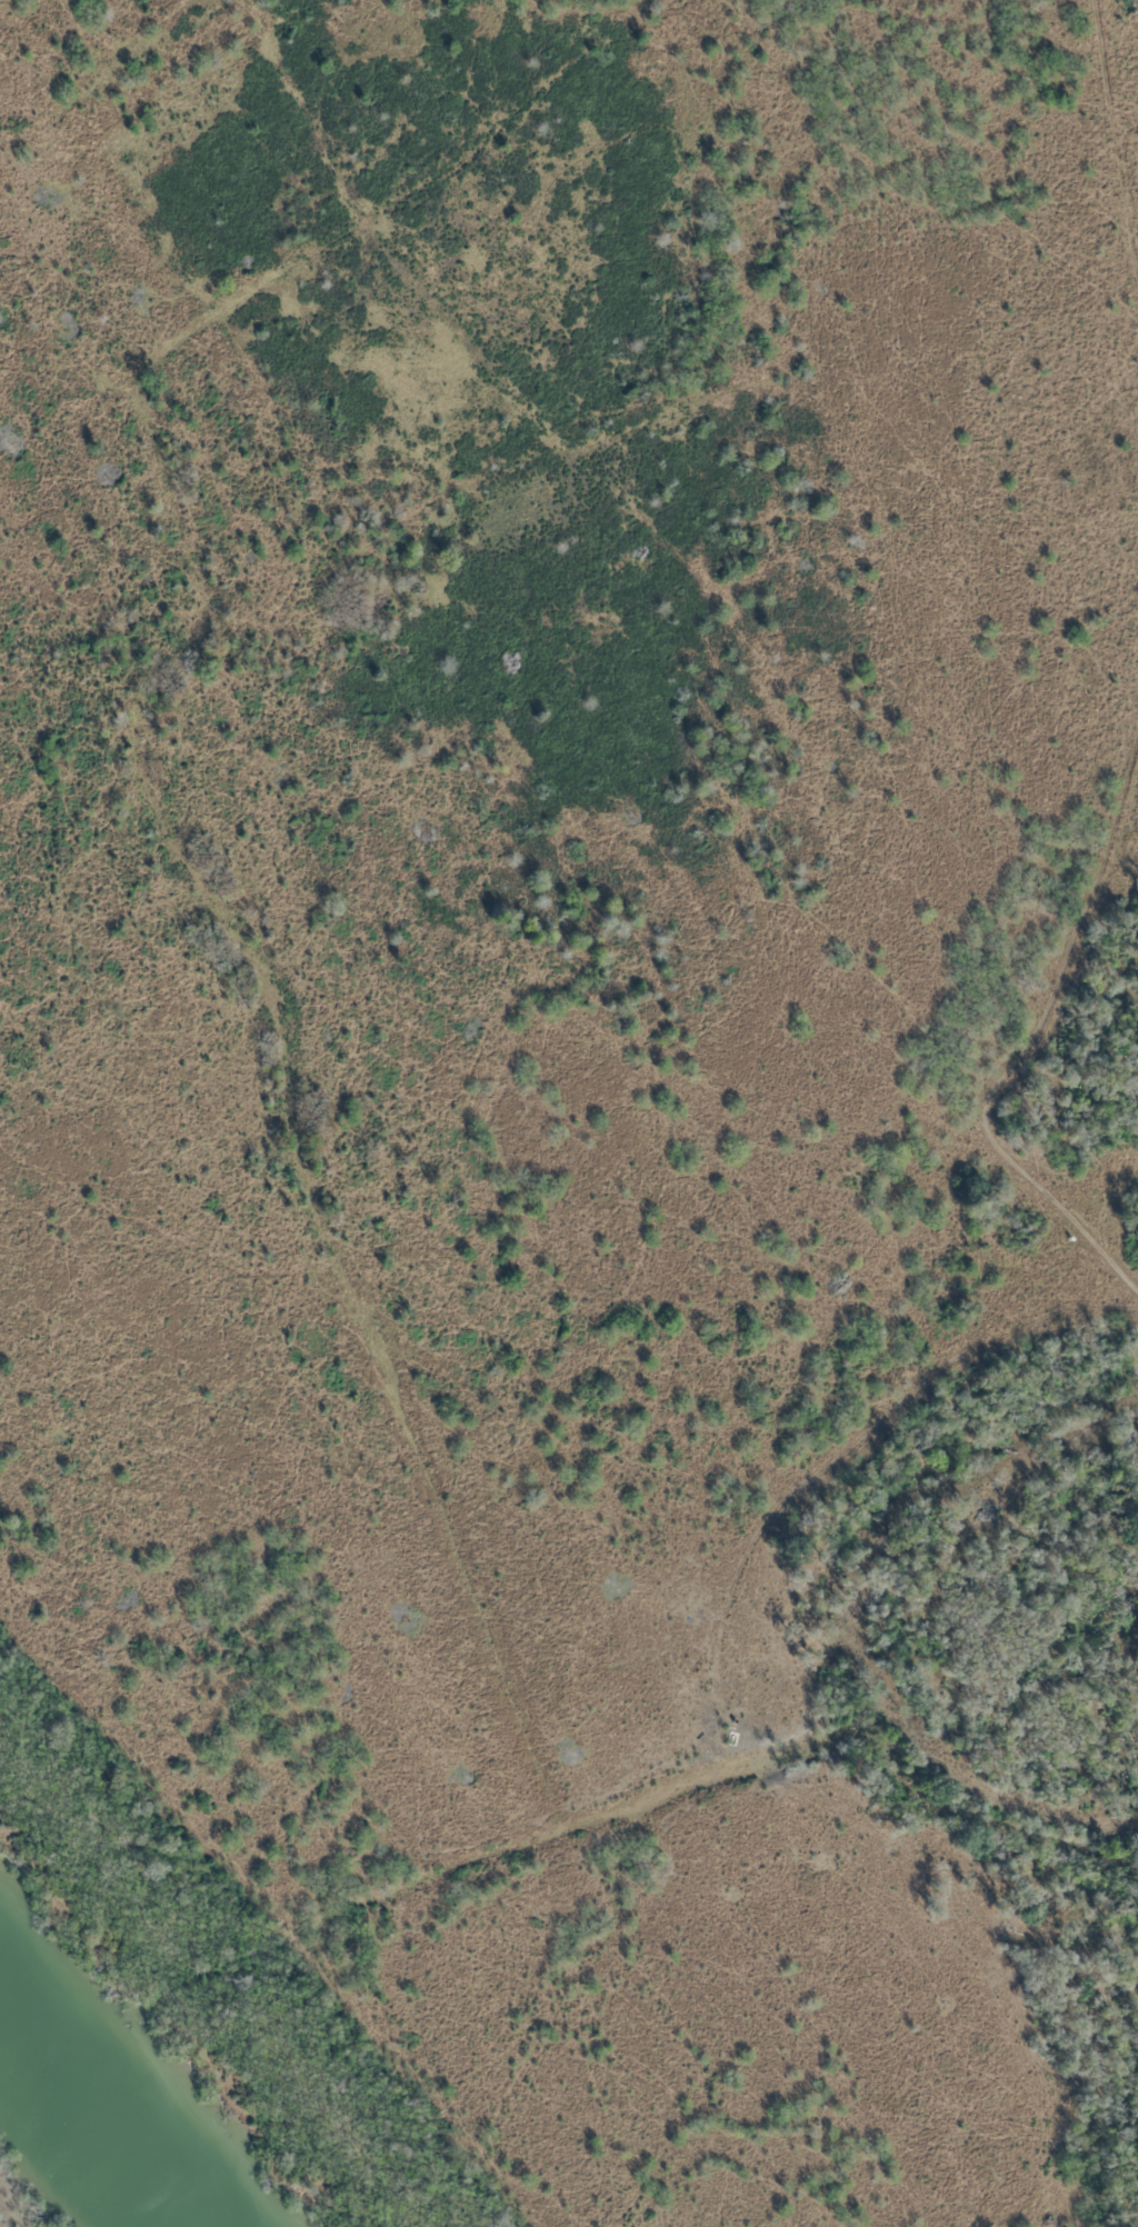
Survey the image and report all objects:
road: (1118, 112)
road: (1024, 1040)

